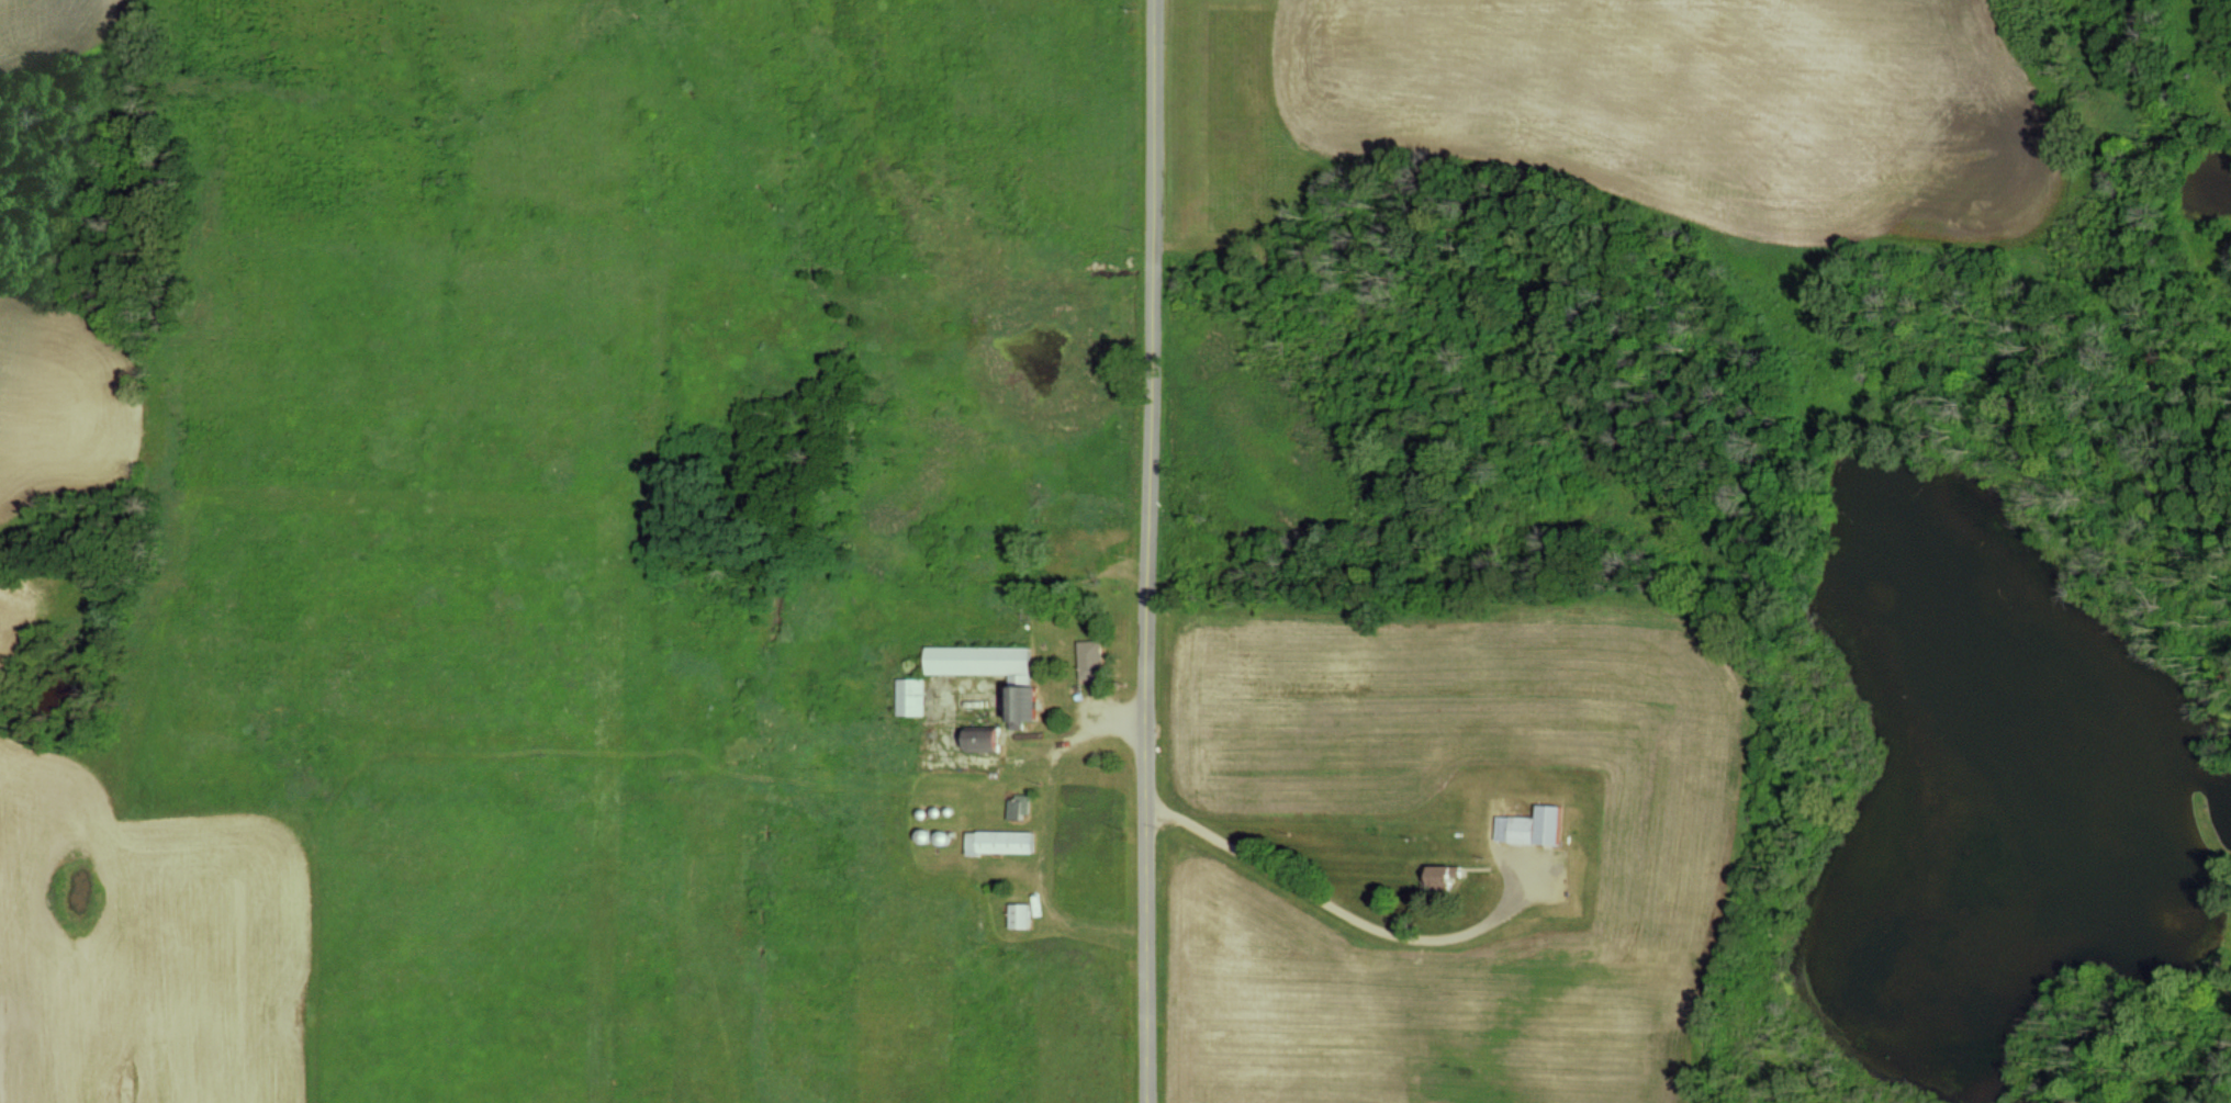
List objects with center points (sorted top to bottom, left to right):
road: (1154, 551)
building: (1095, 659)
building: (996, 673)
building: (915, 696)
road: (1092, 727)
building: (986, 739)
building: (1022, 807)
building: (1538, 826)
building: (1004, 842)
building: (1454, 877)
road: (1050, 890)
road: (1345, 913)
building: (1022, 916)

